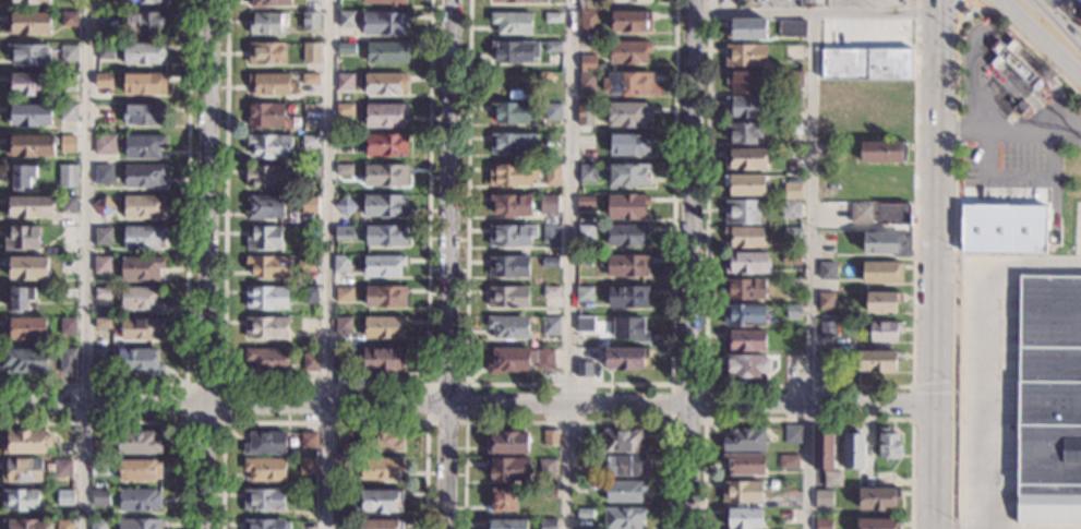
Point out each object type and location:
building: (28, 1)
building: (145, 1)
building: (515, 1)
building: (632, 1)
building: (387, 2)
road: (966, 2)
building: (268, 3)
road: (1049, 3)
building: (589, 4)
road: (844, 5)
road: (938, 5)
road: (945, 10)
road: (816, 11)
building: (966, 12)
road: (1068, 13)
building: (553, 17)
building: (1079, 17)
building: (69, 20)
building: (346, 20)
building: (311, 21)
building: (630, 22)
road: (1060, 22)
building: (145, 23)
building: (513, 23)
building: (588, 23)
building: (27, 24)
building: (267, 24)
building: (385, 24)
building: (792, 28)
building: (745, 29)
building: (104, 38)
road: (1041, 39)
building: (1012, 46)
building: (553, 47)
building: (347, 49)
building: (105, 51)
building: (515, 52)
building: (628, 52)
road: (1021, 52)
building: (69, 53)
building: (145, 53)
building: (266, 53)
building: (312, 53)
building: (387, 53)
building: (793, 53)
building: (28, 56)
building: (746, 56)
building: (1011, 61)
building: (997, 62)
building: (588, 63)
road: (1013, 79)
building: (310, 80)
building: (794, 80)
building: (865, 80)
building: (104, 81)
building: (587, 81)
building: (345, 82)
building: (744, 82)
building: (69, 83)
building: (512, 83)
building: (31, 84)
building: (268, 84)
building: (385, 84)
building: (628, 84)
building: (144, 85)
road: (970, 95)
building: (794, 103)
building: (745, 107)
building: (345, 109)
building: (68, 112)
building: (552, 112)
building: (514, 113)
building: (31, 115)
building: (144, 115)
building: (585, 115)
building: (628, 115)
building: (385, 116)
building: (267, 117)
building: (830, 120)
building: (892, 122)
road: (1055, 128)
building: (792, 129)
road: (1008, 132)
building: (743, 133)
building: (552, 140)
building: (311, 141)
building: (69, 144)
building: (513, 144)
building: (105, 145)
building: (386, 145)
building: (629, 145)
building: (29, 146)
building: (142, 146)
building: (269, 146)
building: (882, 153)
building: (746, 158)
building: (581, 159)
building: (344, 170)
building: (310, 171)
building: (588, 173)
building: (104, 175)
building: (513, 175)
building: (553, 175)
building: (68, 176)
building: (385, 176)
building: (629, 176)
building: (21, 177)
building: (145, 177)
building: (268, 177)
building: (745, 184)
road: (956, 190)
building: (792, 192)
building: (772, 197)
road: (208, 202)
road: (447, 202)
building: (586, 202)
building: (309, 204)
building: (68, 205)
building: (384, 205)
building: (512, 205)
building: (549, 205)
building: (103, 206)
building: (346, 206)
building: (627, 206)
building: (28, 207)
building: (144, 207)
building: (265, 207)
building: (790, 209)
building: (742, 212)
building: (861, 214)
building: (894, 214)
building: (1004, 229)
building: (344, 232)
building: (792, 232)
building: (586, 233)
building: (551, 235)
building: (385, 236)
building: (512, 236)
building: (626, 236)
building: (103, 237)
building: (143, 237)
building: (744, 237)
building: (22, 239)
building: (264, 239)
building: (887, 243)
building: (791, 260)
building: (585, 262)
building: (551, 263)
building: (745, 263)
road: (86, 264)
road: (324, 264)
building: (340, 264)
road: (567, 264)
road: (689, 264)
building: (101, 265)
building: (305, 265)
building: (267, 266)
building: (383, 266)
building: (625, 266)
building: (69, 267)
building: (509, 267)
building: (27, 268)
building: (141, 268)
road: (808, 269)
road: (930, 269)
building: (827, 272)
building: (882, 273)
road: (185, 284)
building: (792, 287)
building: (744, 289)
building: (551, 292)
building: (68, 293)
building: (101, 293)
building: (345, 294)
building: (585, 294)
building: (310, 296)
building: (386, 297)
building: (508, 297)
building: (266, 298)
building: (628, 298)
building: (20, 299)
building: (142, 300)
building: (826, 301)
building: (882, 301)
building: (793, 312)
building: (744, 315)
building: (103, 324)
building: (585, 324)
building: (344, 326)
building: (551, 326)
building: (68, 327)
building: (266, 327)
building: (384, 327)
building: (508, 327)
building: (25, 328)
building: (142, 329)
building: (629, 329)
building: (828, 329)
building: (885, 332)
building: (745, 341)
road: (989, 349)
building: (267, 359)
building: (625, 359)
building: (382, 360)
building: (519, 360)
building: (25, 361)
building: (68, 361)
building: (99, 361)
building: (876, 361)
building: (135, 362)
building: (310, 362)
building: (340, 362)
building: (746, 366)
building: (822, 369)
building: (584, 370)
road: (568, 384)
road: (323, 385)
road: (807, 385)
road: (933, 385)
road: (183, 386)
road: (672, 386)
building: (1048, 400)
road: (912, 401)
road: (103, 405)
road: (326, 405)
road: (686, 405)
road: (807, 419)
road: (427, 421)
road: (144, 422)
road: (324, 422)
road: (568, 422)
building: (792, 434)
building: (551, 437)
building: (578, 438)
building: (744, 440)
building: (309, 441)
building: (381, 441)
building: (26, 442)
building: (624, 442)
building: (139, 443)
building: (266, 443)
building: (507, 443)
building: (888, 444)
building: (344, 445)
building: (98, 448)
building: (853, 449)
building: (822, 450)
building: (789, 461)
building: (745, 464)
building: (625, 465)
road: (205, 467)
building: (308, 467)
road: (445, 467)
building: (98, 468)
building: (340, 468)
building: (381, 468)
building: (546, 468)
building: (62, 469)
building: (22, 470)
building: (139, 470)
building: (265, 470)
building: (509, 470)
building: (832, 479)
building: (625, 491)
building: (743, 492)
building: (548, 494)
building: (64, 497)
building: (99, 497)
building: (822, 497)
building: (340, 498)
building: (878, 498)
building: (20, 500)
building: (264, 500)
building: (139, 501)
building: (503, 501)
building: (383, 502)
building: (585, 514)
building: (624, 518)
building: (744, 518)
building: (97, 524)
building: (351, 524)
building: (506, 524)
building: (548, 524)
building: (824, 524)
building: (878, 524)
building: (24, 525)
building: (63, 525)
building: (140, 525)
building: (266, 525)
building: (382, 525)

